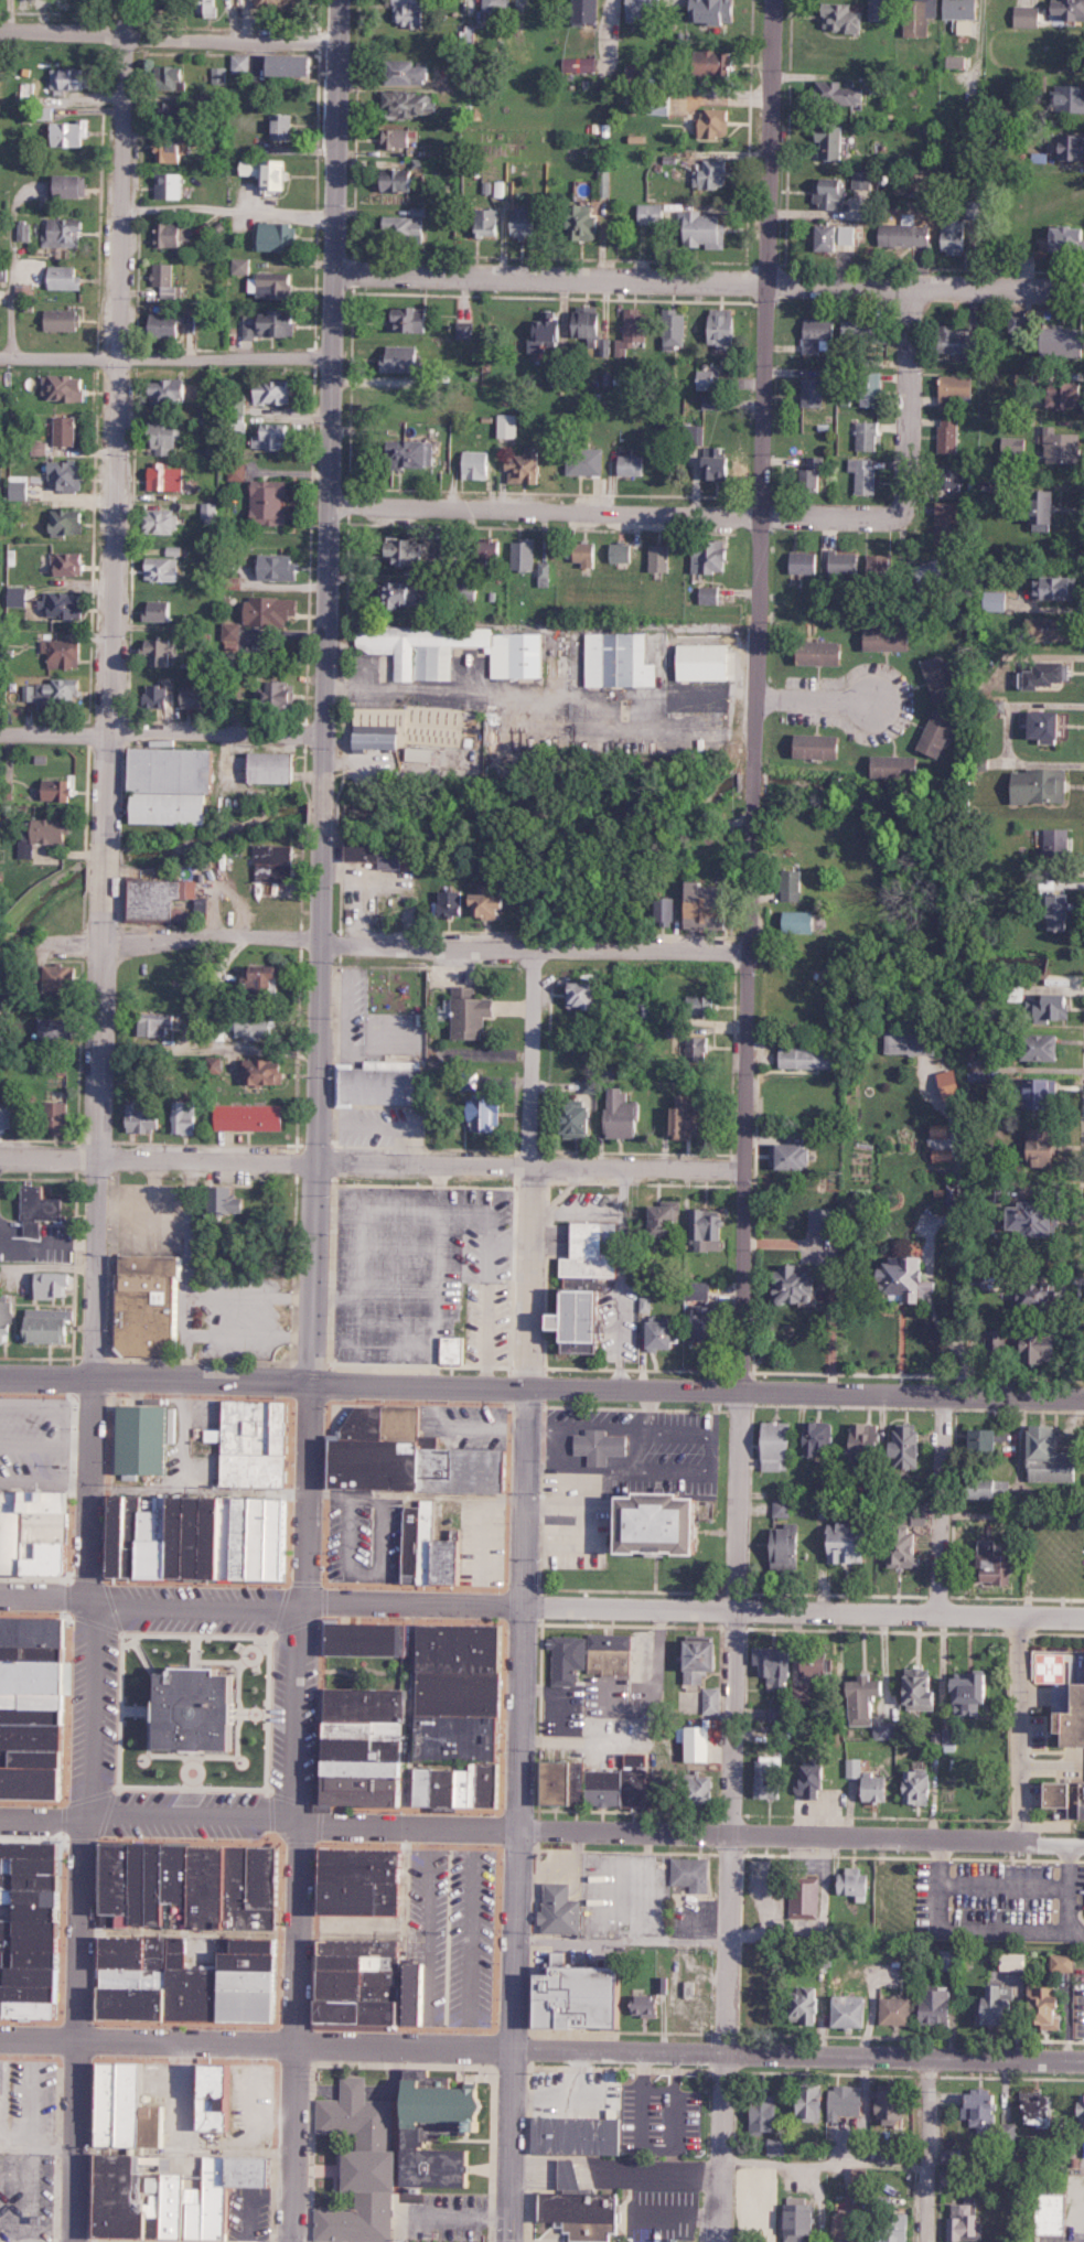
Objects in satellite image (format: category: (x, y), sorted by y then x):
building: (163, 2)
building: (276, 3)
building: (496, 6)
building: (212, 7)
building: (645, 9)
building: (879, 9)
building: (965, 9)
building: (1070, 9)
building: (589, 11)
building: (409, 12)
building: (924, 15)
building: (1028, 15)
building: (844, 17)
building: (968, 26)
road: (165, 39)
building: (957, 61)
building: (716, 62)
building: (242, 63)
building: (296, 64)
building: (581, 64)
building: (414, 72)
building: (170, 74)
building: (218, 75)
building: (636, 75)
building: (72, 78)
building: (1039, 82)
building: (880, 84)
building: (840, 93)
building: (1070, 97)
building: (408, 104)
building: (172, 114)
building: (715, 122)
building: (282, 126)
building: (71, 132)
building: (397, 138)
building: (831, 140)
building: (1073, 146)
building: (173, 150)
building: (254, 168)
building: (713, 174)
building: (278, 176)
building: (862, 180)
building: (401, 181)
building: (603, 183)
building: (74, 185)
building: (172, 185)
building: (831, 193)
building: (653, 213)
building: (410, 222)
building: (487, 222)
building: (525, 223)
building: (586, 225)
building: (706, 228)
building: (25, 230)
building: (64, 232)
building: (171, 234)
building: (906, 235)
building: (280, 236)
building: (954, 236)
building: (1067, 237)
building: (836, 238)
building: (242, 266)
building: (4, 272)
building: (66, 277)
building: (168, 280)
road: (707, 281)
building: (25, 291)
building: (412, 319)
building: (64, 320)
road: (8, 321)
building: (1017, 321)
building: (279, 323)
building: (174, 324)
building: (249, 326)
building: (725, 328)
building: (593, 329)
building: (675, 329)
building: (466, 330)
building: (548, 330)
building: (633, 330)
building: (866, 331)
building: (818, 334)
building: (959, 342)
building: (1062, 342)
road: (164, 354)
building: (403, 358)
building: (558, 374)
building: (710, 379)
building: (66, 387)
building: (171, 390)
building: (814, 391)
building: (956, 391)
building: (272, 393)
building: (1067, 394)
building: (867, 396)
building: (712, 403)
building: (509, 426)
building: (66, 431)
building: (694, 433)
building: (949, 435)
building: (169, 436)
building: (273, 436)
building: (867, 436)
building: (1013, 446)
building: (1063, 447)
building: (415, 452)
building: (372, 457)
building: (586, 461)
building: (477, 464)
building: (719, 464)
building: (632, 465)
building: (525, 466)
building: (236, 471)
building: (814, 471)
road: (903, 473)
building: (865, 474)
building: (67, 475)
building: (168, 478)
building: (19, 490)
building: (271, 502)
road: (541, 508)
building: (210, 512)
building: (1048, 514)
building: (68, 521)
building: (164, 523)
building: (947, 523)
building: (408, 551)
building: (622, 553)
building: (524, 554)
building: (587, 554)
building: (661, 558)
building: (448, 560)
building: (710, 561)
building: (805, 562)
building: (67, 564)
building: (846, 564)
building: (278, 567)
building: (163, 568)
building: (879, 568)
building: (545, 573)
building: (926, 576)
building: (1059, 587)
building: (404, 593)
building: (709, 594)
building: (18, 597)
building: (996, 600)
building: (63, 605)
building: (159, 610)
building: (272, 610)
building: (1053, 630)
building: (232, 631)
building: (889, 639)
building: (250, 646)
building: (159, 651)
building: (64, 653)
building: (824, 653)
building: (691, 658)
building: (618, 661)
building: (425, 665)
building: (1052, 675)
building: (942, 677)
road: (322, 687)
building: (60, 691)
building: (28, 693)
building: (158, 695)
building: (286, 696)
road: (538, 696)
building: (193, 697)
road: (812, 698)
building: (409, 727)
building: (1051, 727)
road: (160, 731)
building: (941, 732)
building: (822, 745)
building: (421, 754)
building: (899, 766)
building: (264, 768)
building: (161, 771)
building: (1042, 785)
building: (57, 790)
road: (105, 800)
building: (45, 835)
building: (1059, 841)
building: (385, 854)
building: (275, 862)
building: (793, 884)
building: (495, 901)
building: (454, 903)
building: (712, 907)
building: (667, 910)
building: (1059, 912)
road: (745, 914)
building: (802, 922)
road: (211, 933)
road: (532, 943)
building: (58, 977)
building: (266, 977)
building: (586, 996)
building: (702, 1006)
building: (1051, 1007)
building: (473, 1013)
building: (157, 1023)
building: (260, 1026)
building: (58, 1031)
building: (912, 1042)
building: (1048, 1048)
building: (700, 1049)
building: (809, 1058)
building: (216, 1064)
building: (267, 1072)
building: (382, 1083)
building: (953, 1084)
building: (593, 1085)
building: (1045, 1094)
building: (487, 1115)
building: (627, 1115)
building: (697, 1116)
building: (6, 1117)
building: (186, 1117)
building: (253, 1117)
building: (61, 1118)
building: (144, 1119)
building: (583, 1123)
building: (1049, 1148)
road: (158, 1156)
building: (796, 1156)
building: (947, 1156)
road: (529, 1160)
road: (152, 1182)
building: (996, 1190)
building: (228, 1201)
building: (42, 1205)
road: (141, 1209)
building: (1038, 1219)
building: (670, 1220)
building: (822, 1220)
building: (33, 1229)
building: (709, 1231)
building: (594, 1253)
road: (186, 1265)
parking lot: (420, 1269)
road: (525, 1273)
building: (911, 1278)
building: (978, 1283)
building: (802, 1284)
building: (54, 1285)
building: (1037, 1297)
building: (646, 1305)
building: (150, 1306)
road: (242, 1315)
road: (266, 1315)
road: (216, 1317)
building: (7, 1320)
building: (590, 1322)
building: (706, 1322)
building: (49, 1327)
building: (666, 1335)
building: (1041, 1347)
building: (455, 1350)
road: (153, 1373)
road: (695, 1386)
road: (107, 1387)
parking lot: (471, 1423)
building: (811, 1436)
parking lot: (31, 1437)
building: (856, 1437)
building: (973, 1438)
building: (135, 1440)
building: (260, 1444)
building: (768, 1445)
building: (594, 1446)
building: (897, 1446)
parking lot: (666, 1449)
building: (1040, 1456)
building: (410, 1466)
building: (984, 1488)
road: (941, 1500)
building: (777, 1508)
parking lot: (573, 1513)
building: (645, 1522)
parking lot: (348, 1528)
building: (36, 1532)
building: (204, 1537)
building: (837, 1544)
building: (775, 1546)
building: (897, 1546)
building: (425, 1548)
building: (986, 1568)
road: (44, 1594)
road: (298, 1597)
road: (110, 1601)
road: (407, 1601)
road: (192, 1602)
road: (278, 1605)
road: (771, 1607)
road: (1052, 1612)
road: (94, 1617)
road: (293, 1622)
building: (356, 1639)
road: (253, 1645)
road: (136, 1650)
building: (605, 1653)
building: (562, 1659)
building: (688, 1661)
building: (808, 1663)
park: (363, 1664)
building: (768, 1664)
helipad: (1045, 1667)
road: (353, 1669)
building: (911, 1689)
building: (796, 1692)
building: (962, 1693)
building: (858, 1698)
road: (66, 1699)
building: (1063, 1706)
building: (36, 1707)
road: (251, 1707)
road: (92, 1708)
building: (203, 1710)
road: (519, 1715)
road: (1020, 1725)
building: (412, 1728)
building: (880, 1730)
building: (942, 1740)
building: (690, 1742)
road: (236, 1751)
road: (187, 1768)
building: (762, 1774)
building: (629, 1779)
building: (806, 1780)
building: (863, 1782)
road: (262, 1784)
building: (570, 1784)
building: (908, 1787)
building: (690, 1789)
road: (89, 1790)
road: (288, 1796)
building: (1060, 1796)
road: (106, 1806)
road: (496, 1809)
road: (189, 1810)
road: (271, 1810)
road: (43, 1819)
road: (405, 1824)
road: (769, 1831)
road: (1051, 1838)
building: (686, 1873)
building: (353, 1881)
building: (847, 1882)
road: (1069, 1884)
road: (1003, 1887)
parking lot: (999, 1890)
building: (801, 1897)
building: (554, 1910)
parking lot: (451, 1927)
building: (35, 1929)
road: (968, 1930)
building: (254, 1932)
building: (551, 1959)
building: (946, 1959)
building: (1006, 1961)
building: (1058, 1962)
building: (359, 1985)
building: (687, 1988)
building: (568, 1996)
parking lot: (1083, 1997)
building: (987, 2003)
building: (637, 2005)
building: (1037, 2005)
building: (929, 2008)
building: (842, 2010)
building: (890, 2010)
road: (275, 2020)
road: (76, 2028)
road: (292, 2030)
road: (512, 2034)
road: (723, 2036)
road: (146, 2037)
road: (688, 2049)
parking lot: (3, 2092)
building: (221, 2094)
building: (799, 2101)
building: (839, 2101)
building: (1033, 2105)
building: (883, 2106)
building: (974, 2106)
building: (112, 2110)
building: (755, 2110)
building: (1077, 2110)
parking lot: (659, 2114)
building: (1005, 2132)
building: (380, 2147)
road: (924, 2149)
building: (883, 2153)
road: (839, 2163)
building: (427, 2166)
building: (229, 2190)
building: (141, 2197)
parking lot: (658, 2210)
building: (576, 2213)
building: (790, 2221)
building: (959, 2222)
building: (888, 2227)

